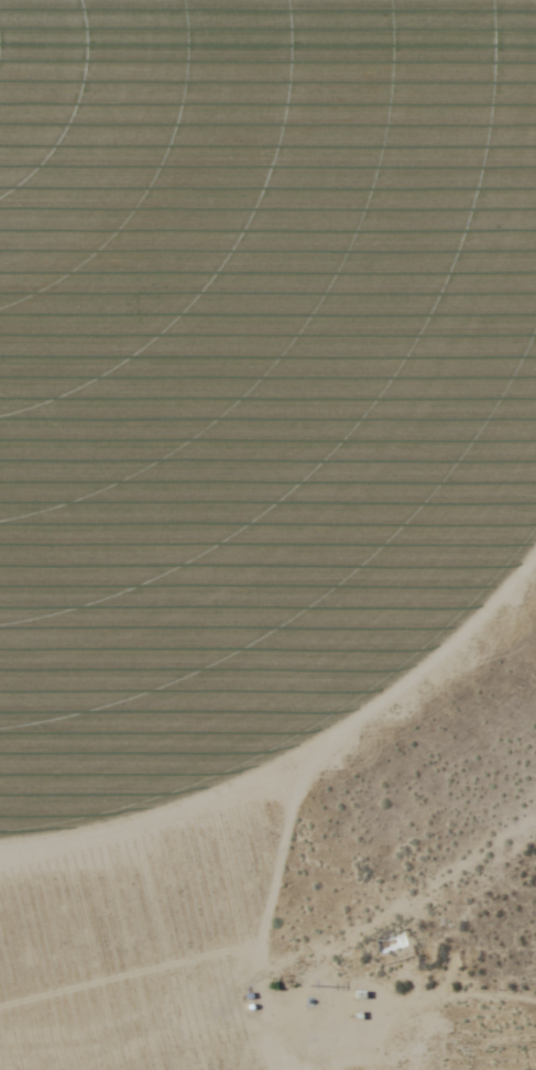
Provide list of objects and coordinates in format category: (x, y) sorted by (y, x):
crop: (250, 373)
building: (392, 948)

